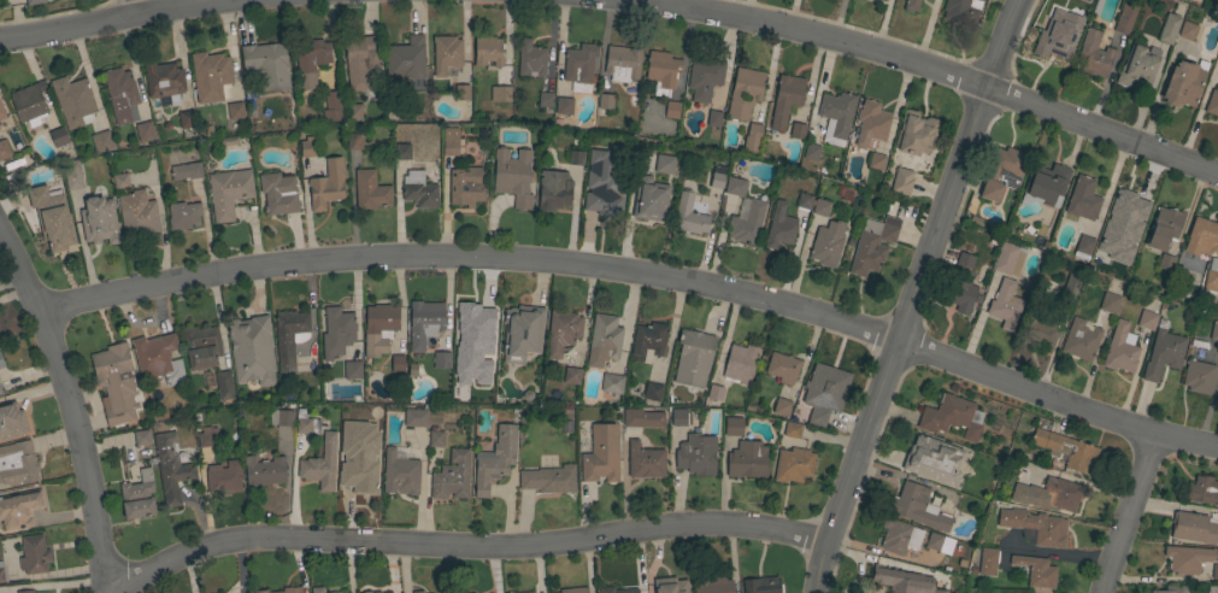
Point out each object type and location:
building: (878, 0)
building: (1085, 0)
building: (33, 1)
building: (911, 5)
road: (143, 6)
building: (961, 11)
building: (1124, 18)
road: (110, 20)
building: (1169, 29)
building: (1187, 30)
building: (1054, 42)
building: (488, 51)
building: (446, 54)
building: (1093, 55)
building: (1217, 55)
building: (406, 59)
building: (530, 59)
building: (310, 61)
building: (360, 61)
building: (622, 63)
building: (266, 65)
road: (922, 65)
building: (579, 66)
building: (1136, 66)
building: (661, 72)
building: (211, 76)
building: (704, 78)
building: (163, 80)
building: (1183, 83)
building: (461, 92)
building: (745, 93)
building: (500, 94)
building: (120, 95)
building: (545, 99)
building: (785, 100)
building: (73, 101)
building: (605, 101)
building: (29, 102)
building: (1212, 102)
building: (331, 106)
building: (564, 106)
building: (235, 110)
building: (671, 110)
building: (353, 112)
building: (1, 113)
building: (836, 117)
building: (713, 118)
building: (186, 119)
building: (871, 124)
building: (798, 130)
building: (145, 131)
building: (914, 133)
building: (58, 137)
building: (752, 137)
building: (353, 140)
building: (101, 141)
building: (449, 141)
building: (306, 147)
building: (4, 149)
building: (401, 151)
building: (811, 152)
building: (576, 158)
building: (876, 162)
building: (664, 164)
building: (186, 171)
building: (1002, 172)
building: (73, 175)
building: (513, 176)
building: (717, 177)
building: (120, 181)
building: (901, 181)
building: (326, 184)
building: (1045, 184)
building: (466, 186)
building: (735, 186)
building: (370, 190)
building: (418, 190)
building: (553, 190)
building: (228, 192)
building: (278, 193)
building: (604, 198)
building: (649, 199)
building: (1082, 199)
building: (804, 201)
building: (820, 207)
building: (1125, 209)
building: (137, 215)
building: (183, 216)
building: (688, 216)
building: (51, 218)
building: (98, 221)
building: (746, 223)
building: (778, 227)
building: (1163, 228)
building: (1201, 237)
building: (826, 243)
building: (872, 245)
building: (1083, 247)
building: (1105, 252)
building: (1008, 259)
building: (1165, 262)
road: (641, 270)
building: (1211, 276)
building: (963, 283)
building: (1071, 286)
road: (917, 295)
building: (1108, 303)
building: (1005, 304)
building: (1146, 319)
building: (423, 322)
building: (1040, 327)
building: (378, 328)
building: (466, 328)
building: (336, 331)
building: (561, 331)
building: (1213, 331)
building: (522, 333)
building: (289, 336)
building: (1081, 339)
building: (604, 340)
building: (649, 340)
building: (201, 346)
building: (301, 346)
building: (1120, 348)
building: (251, 350)
building: (1163, 352)
building: (158, 358)
building: (693, 358)
building: (441, 360)
building: (1, 363)
building: (396, 363)
building: (740, 363)
building: (782, 366)
building: (0, 368)
building: (352, 369)
building: (571, 375)
building: (1198, 376)
building: (114, 382)
building: (612, 383)
building: (223, 386)
building: (459, 386)
building: (0, 392)
building: (652, 392)
building: (714, 392)
building: (824, 392)
road: (73, 405)
building: (782, 406)
building: (678, 417)
building: (952, 417)
building: (281, 418)
building: (416, 418)
building: (642, 418)
building: (11, 421)
building: (305, 424)
building: (732, 427)
building: (789, 429)
building: (373, 435)
building: (211, 436)
building: (141, 438)
building: (436, 439)
building: (1066, 450)
building: (601, 454)
building: (696, 454)
building: (495, 459)
building: (645, 460)
building: (747, 460)
building: (934, 460)
building: (18, 464)
building: (320, 464)
building: (793, 465)
building: (170, 468)
building: (263, 471)
building: (400, 474)
building: (452, 476)
building: (223, 477)
building: (355, 477)
building: (549, 480)
building: (1202, 491)
building: (1049, 494)
building: (137, 497)
building: (918, 506)
building: (19, 509)
road: (1129, 512)
building: (1035, 526)
building: (1194, 528)
building: (899, 536)
building: (940, 544)
road: (466, 546)
building: (34, 554)
building: (1187, 559)
building: (987, 562)
building: (1037, 571)
building: (1214, 571)
building: (2, 573)
building: (894, 579)
building: (712, 585)
building: (670, 586)
building: (761, 586)
building: (1212, 588)
building: (290, 589)
building: (317, 589)
building: (573, 589)
building: (1171, 589)
building: (617, 591)
building: (938, 591)
building: (25, 592)
building: (260, 592)
building: (334, 592)
building: (382, 592)
building: (417, 592)
building: (529, 592)

